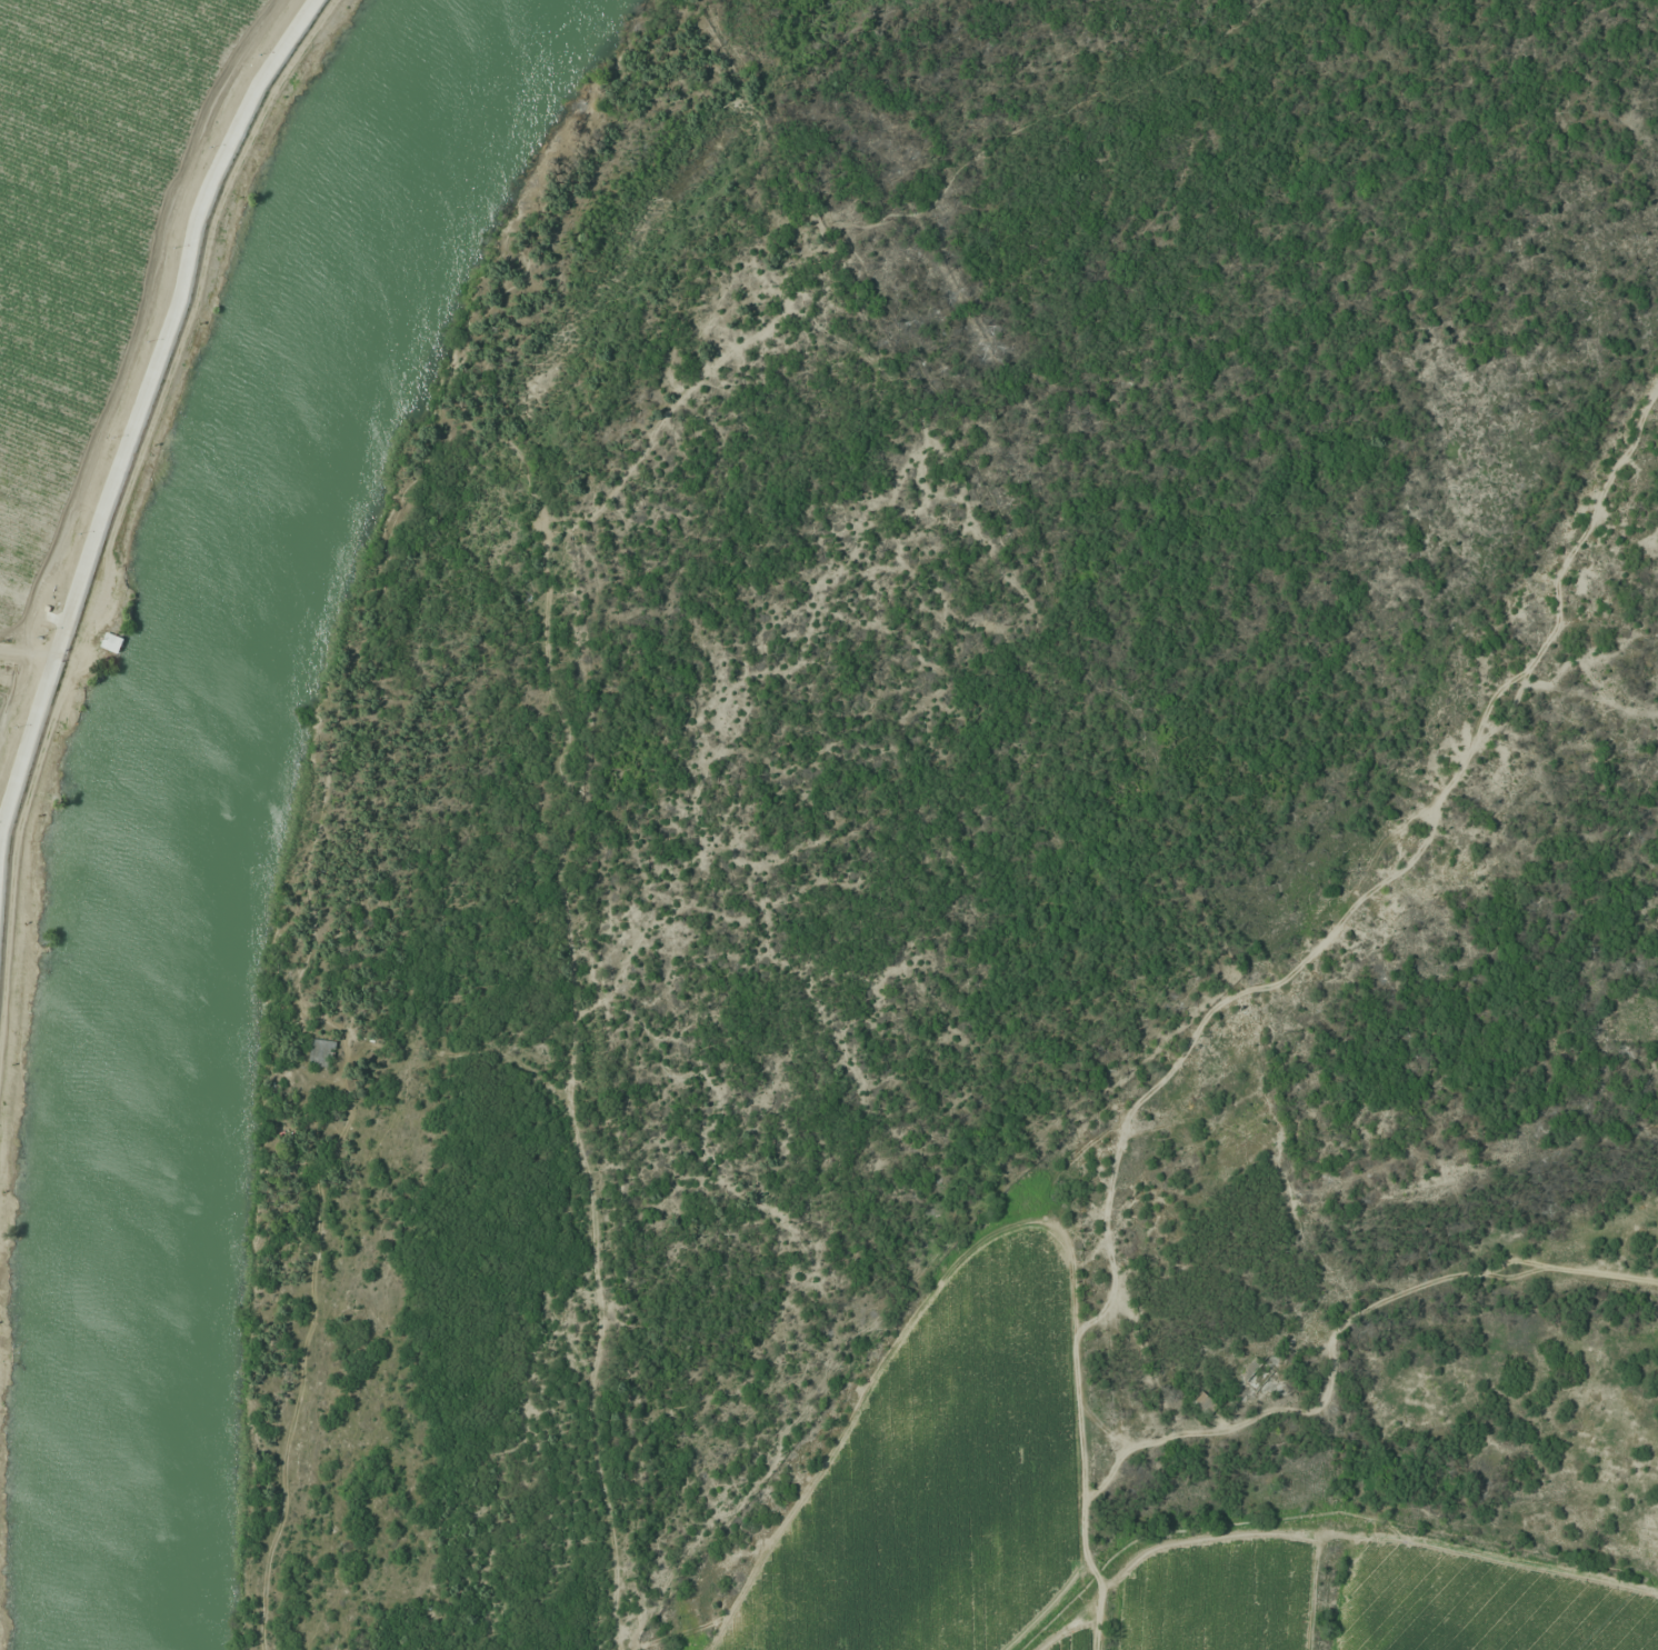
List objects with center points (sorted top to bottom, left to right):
road: (126, 367)
road: (134, 418)
road: (29, 644)
road: (73, 649)
river: (198, 800)
building: (327, 1057)

